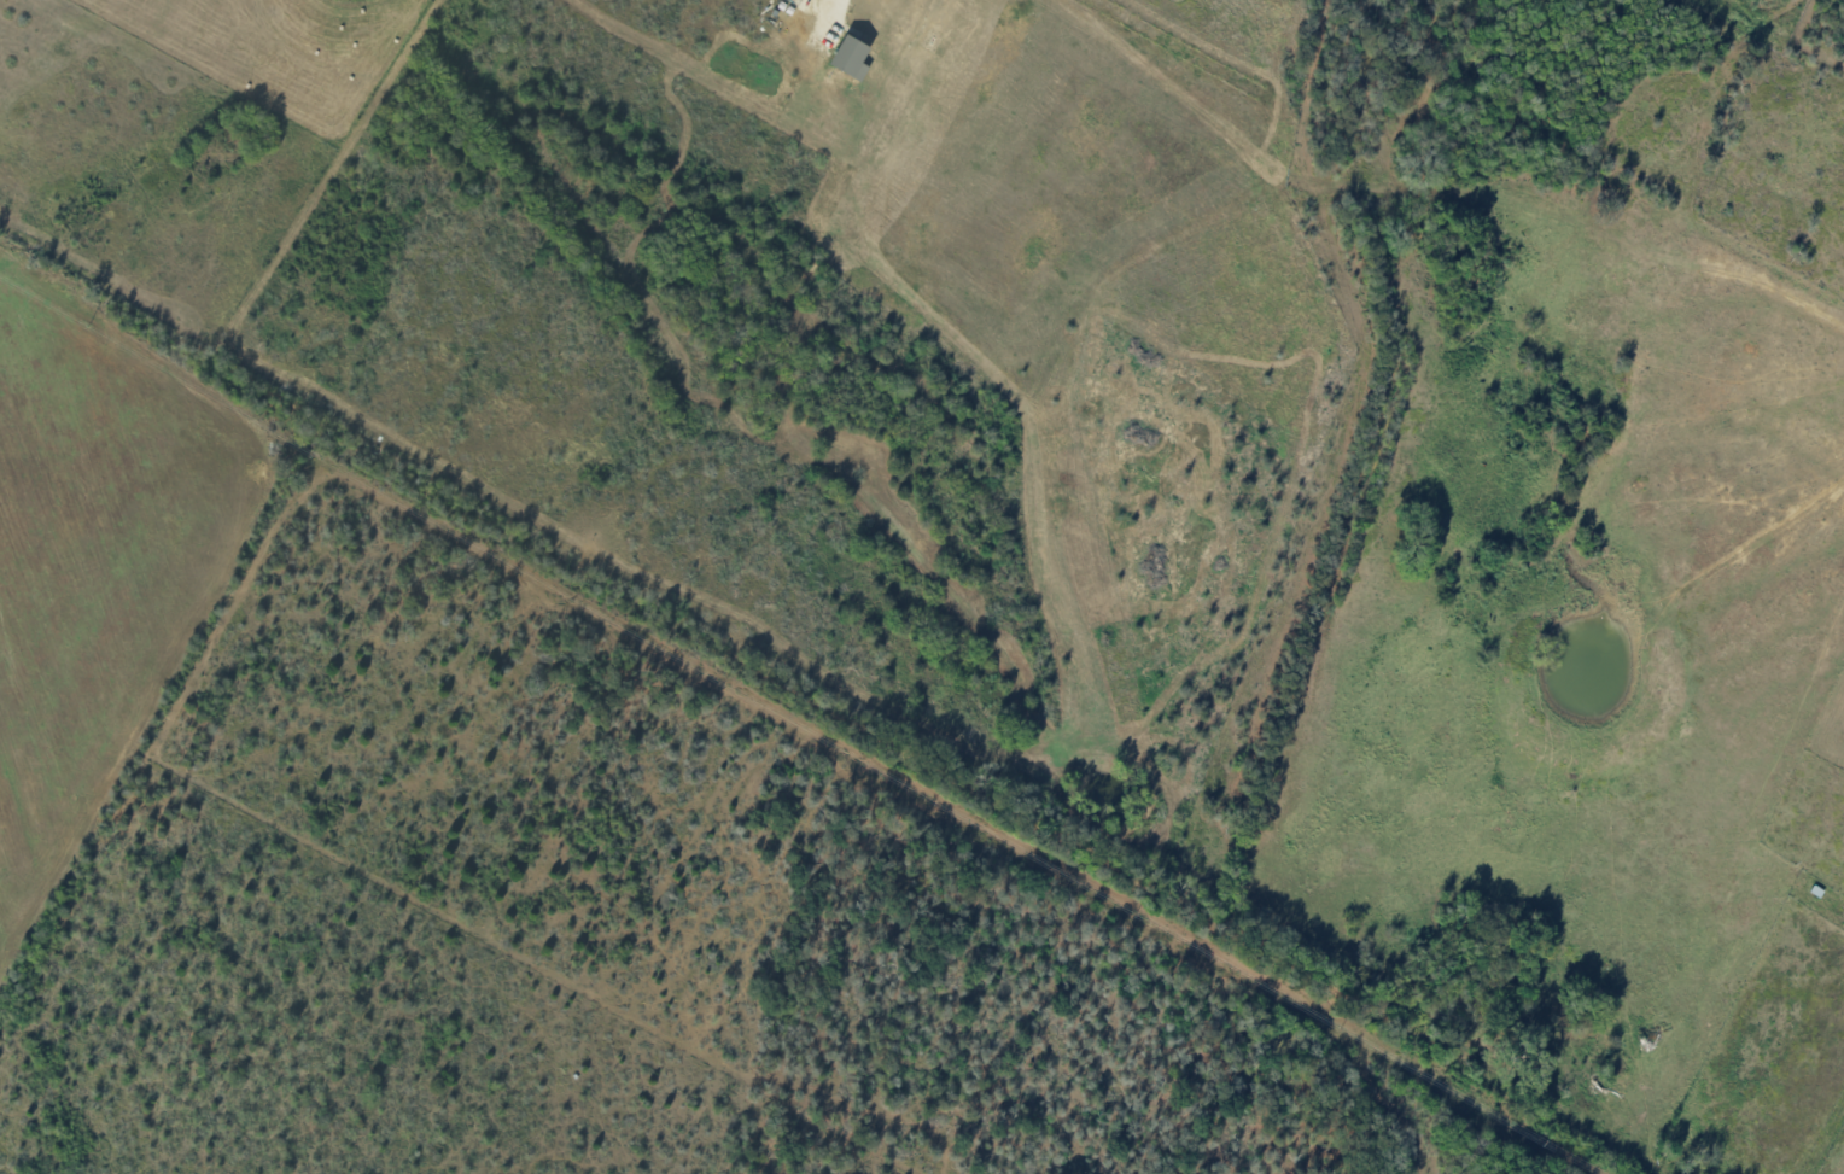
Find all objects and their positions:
road: (827, 8)
building: (850, 58)
road: (1435, 197)

